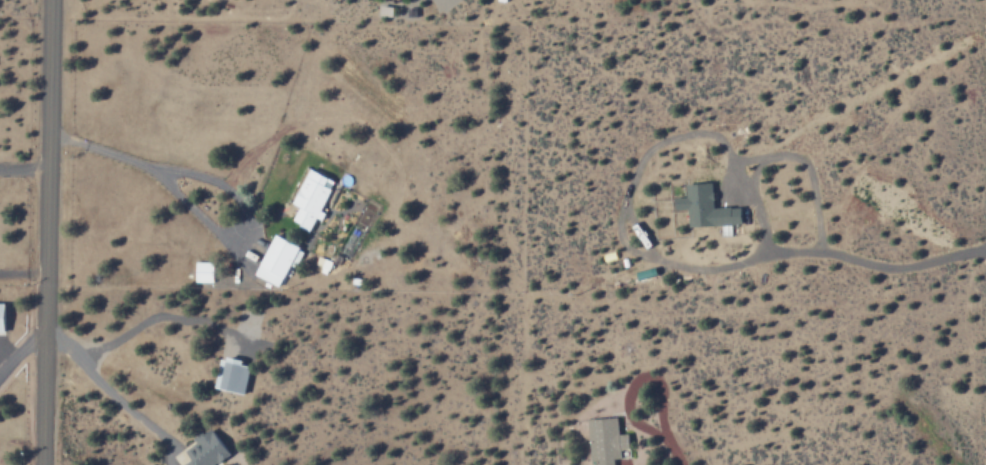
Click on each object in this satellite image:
building: (313, 198)
building: (708, 207)
road: (47, 232)
building: (278, 260)
building: (204, 271)
building: (3, 317)
building: (235, 375)
building: (607, 440)
building: (208, 450)

